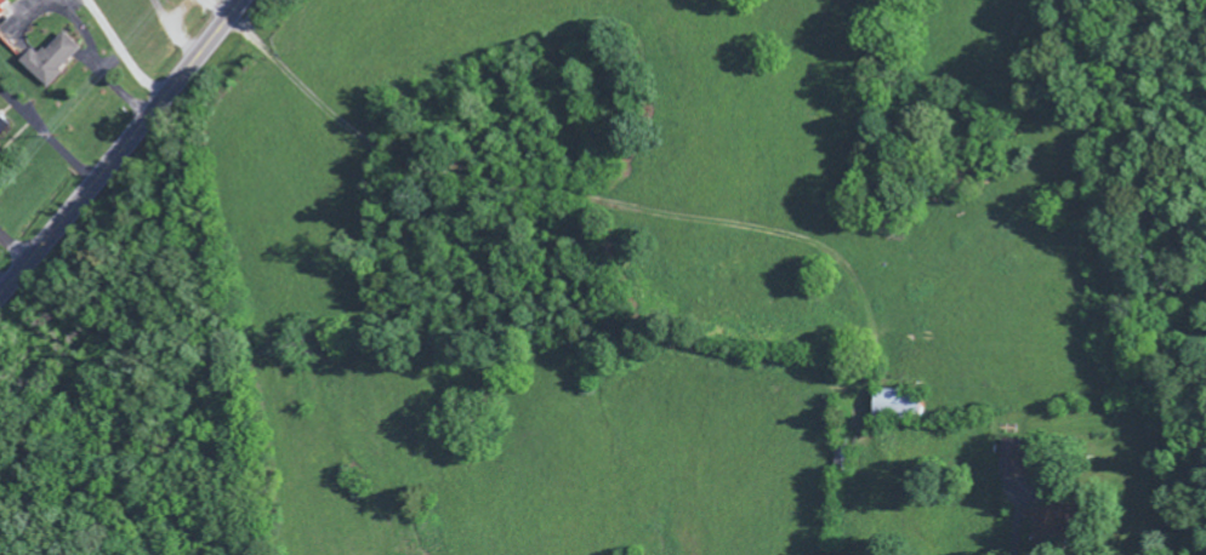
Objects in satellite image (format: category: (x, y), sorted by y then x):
building: (2, 7)
building: (52, 62)
building: (4, 128)
road: (121, 147)
road: (10, 254)
building: (900, 406)
building: (1012, 463)
building: (1054, 526)

